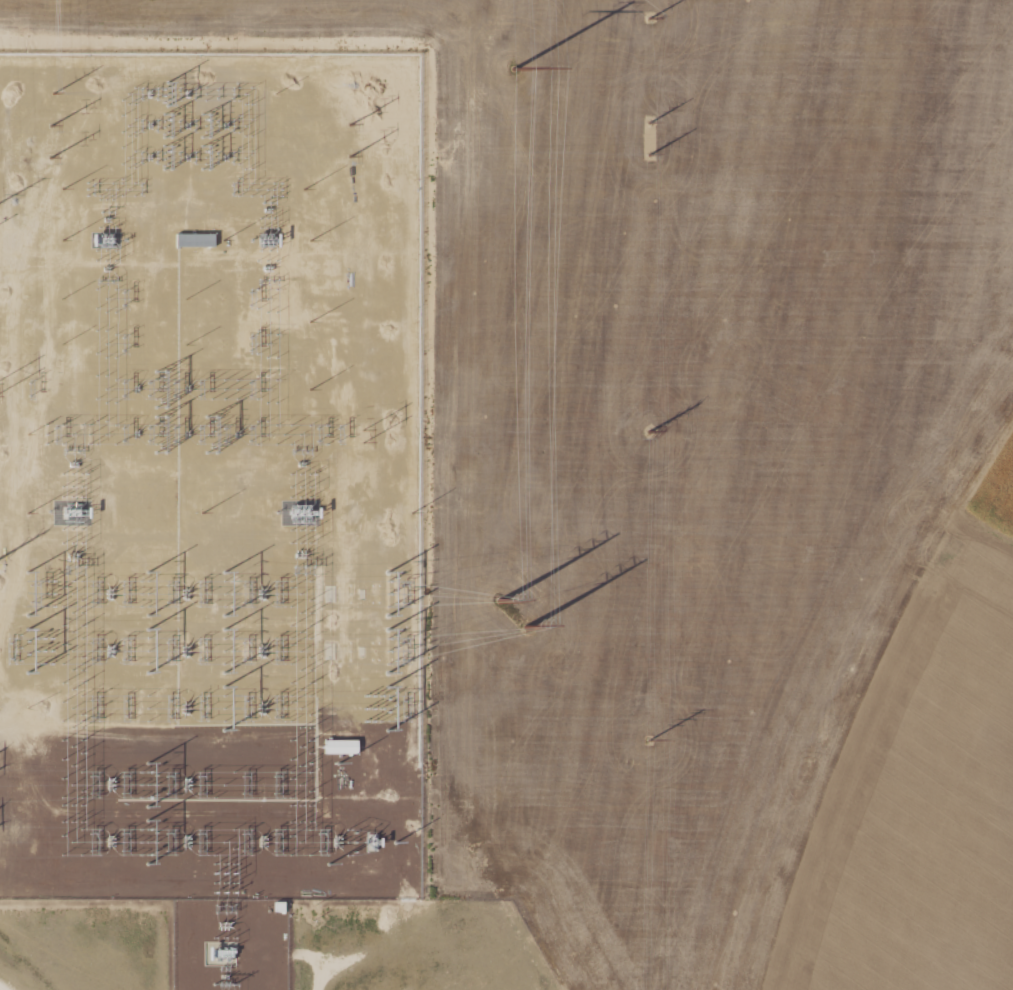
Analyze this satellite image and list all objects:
power tower: (650, 20)
power tower: (515, 70)
power tower: (651, 124)
power tower: (51, 126)
power tower: (351, 126)
power tower: (651, 155)
power tower: (351, 157)
power tower: (52, 159)
power tower: (651, 434)
power tower: (363, 437)
power substation: (210, 479)
power tower: (500, 603)
power tower: (530, 628)
power tower: (651, 743)
building: (335, 748)
power substation: (230, 947)

